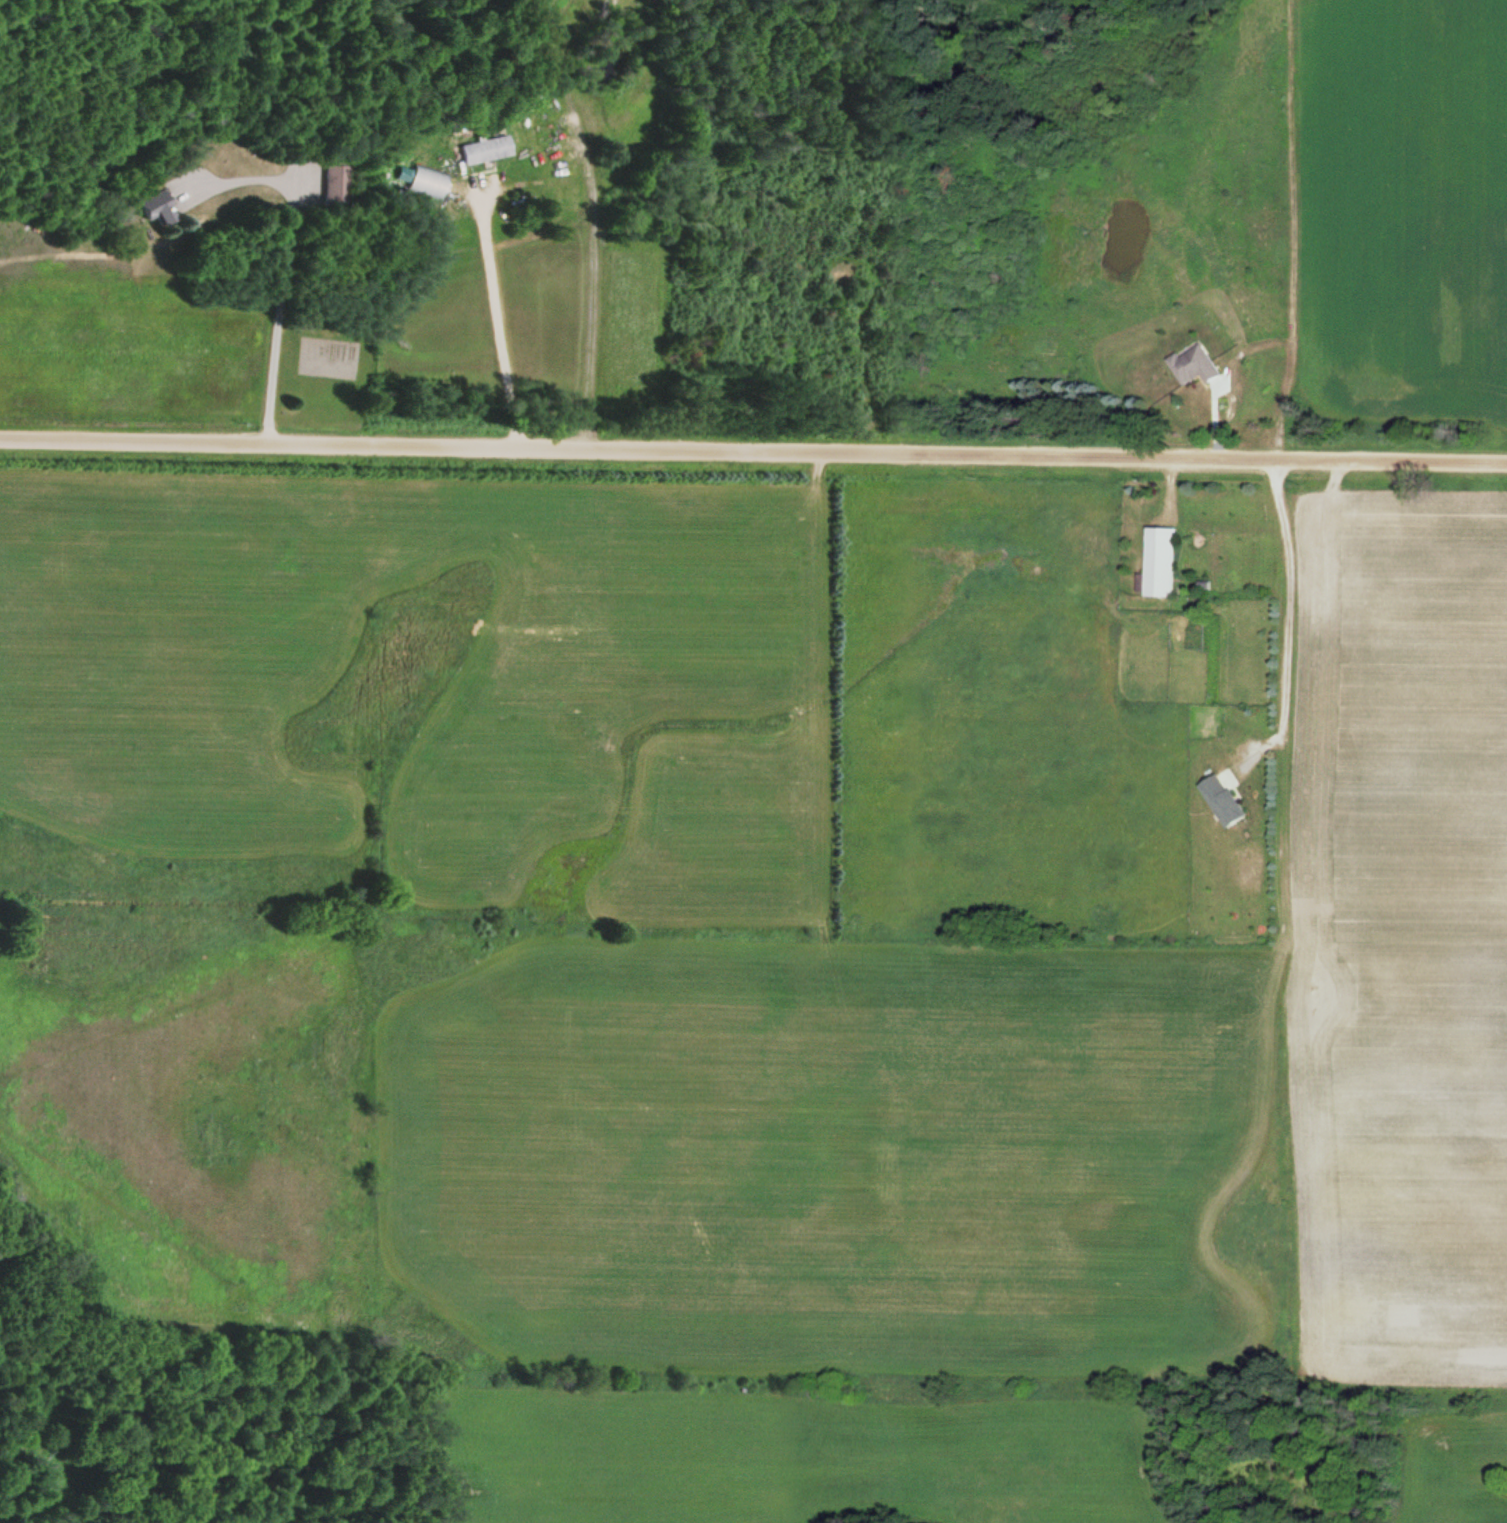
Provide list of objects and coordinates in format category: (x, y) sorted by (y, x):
building: (487, 149)
building: (426, 180)
building: (335, 184)
building: (157, 206)
building: (1199, 364)
road: (753, 448)
building: (1164, 561)
building: (1228, 799)

